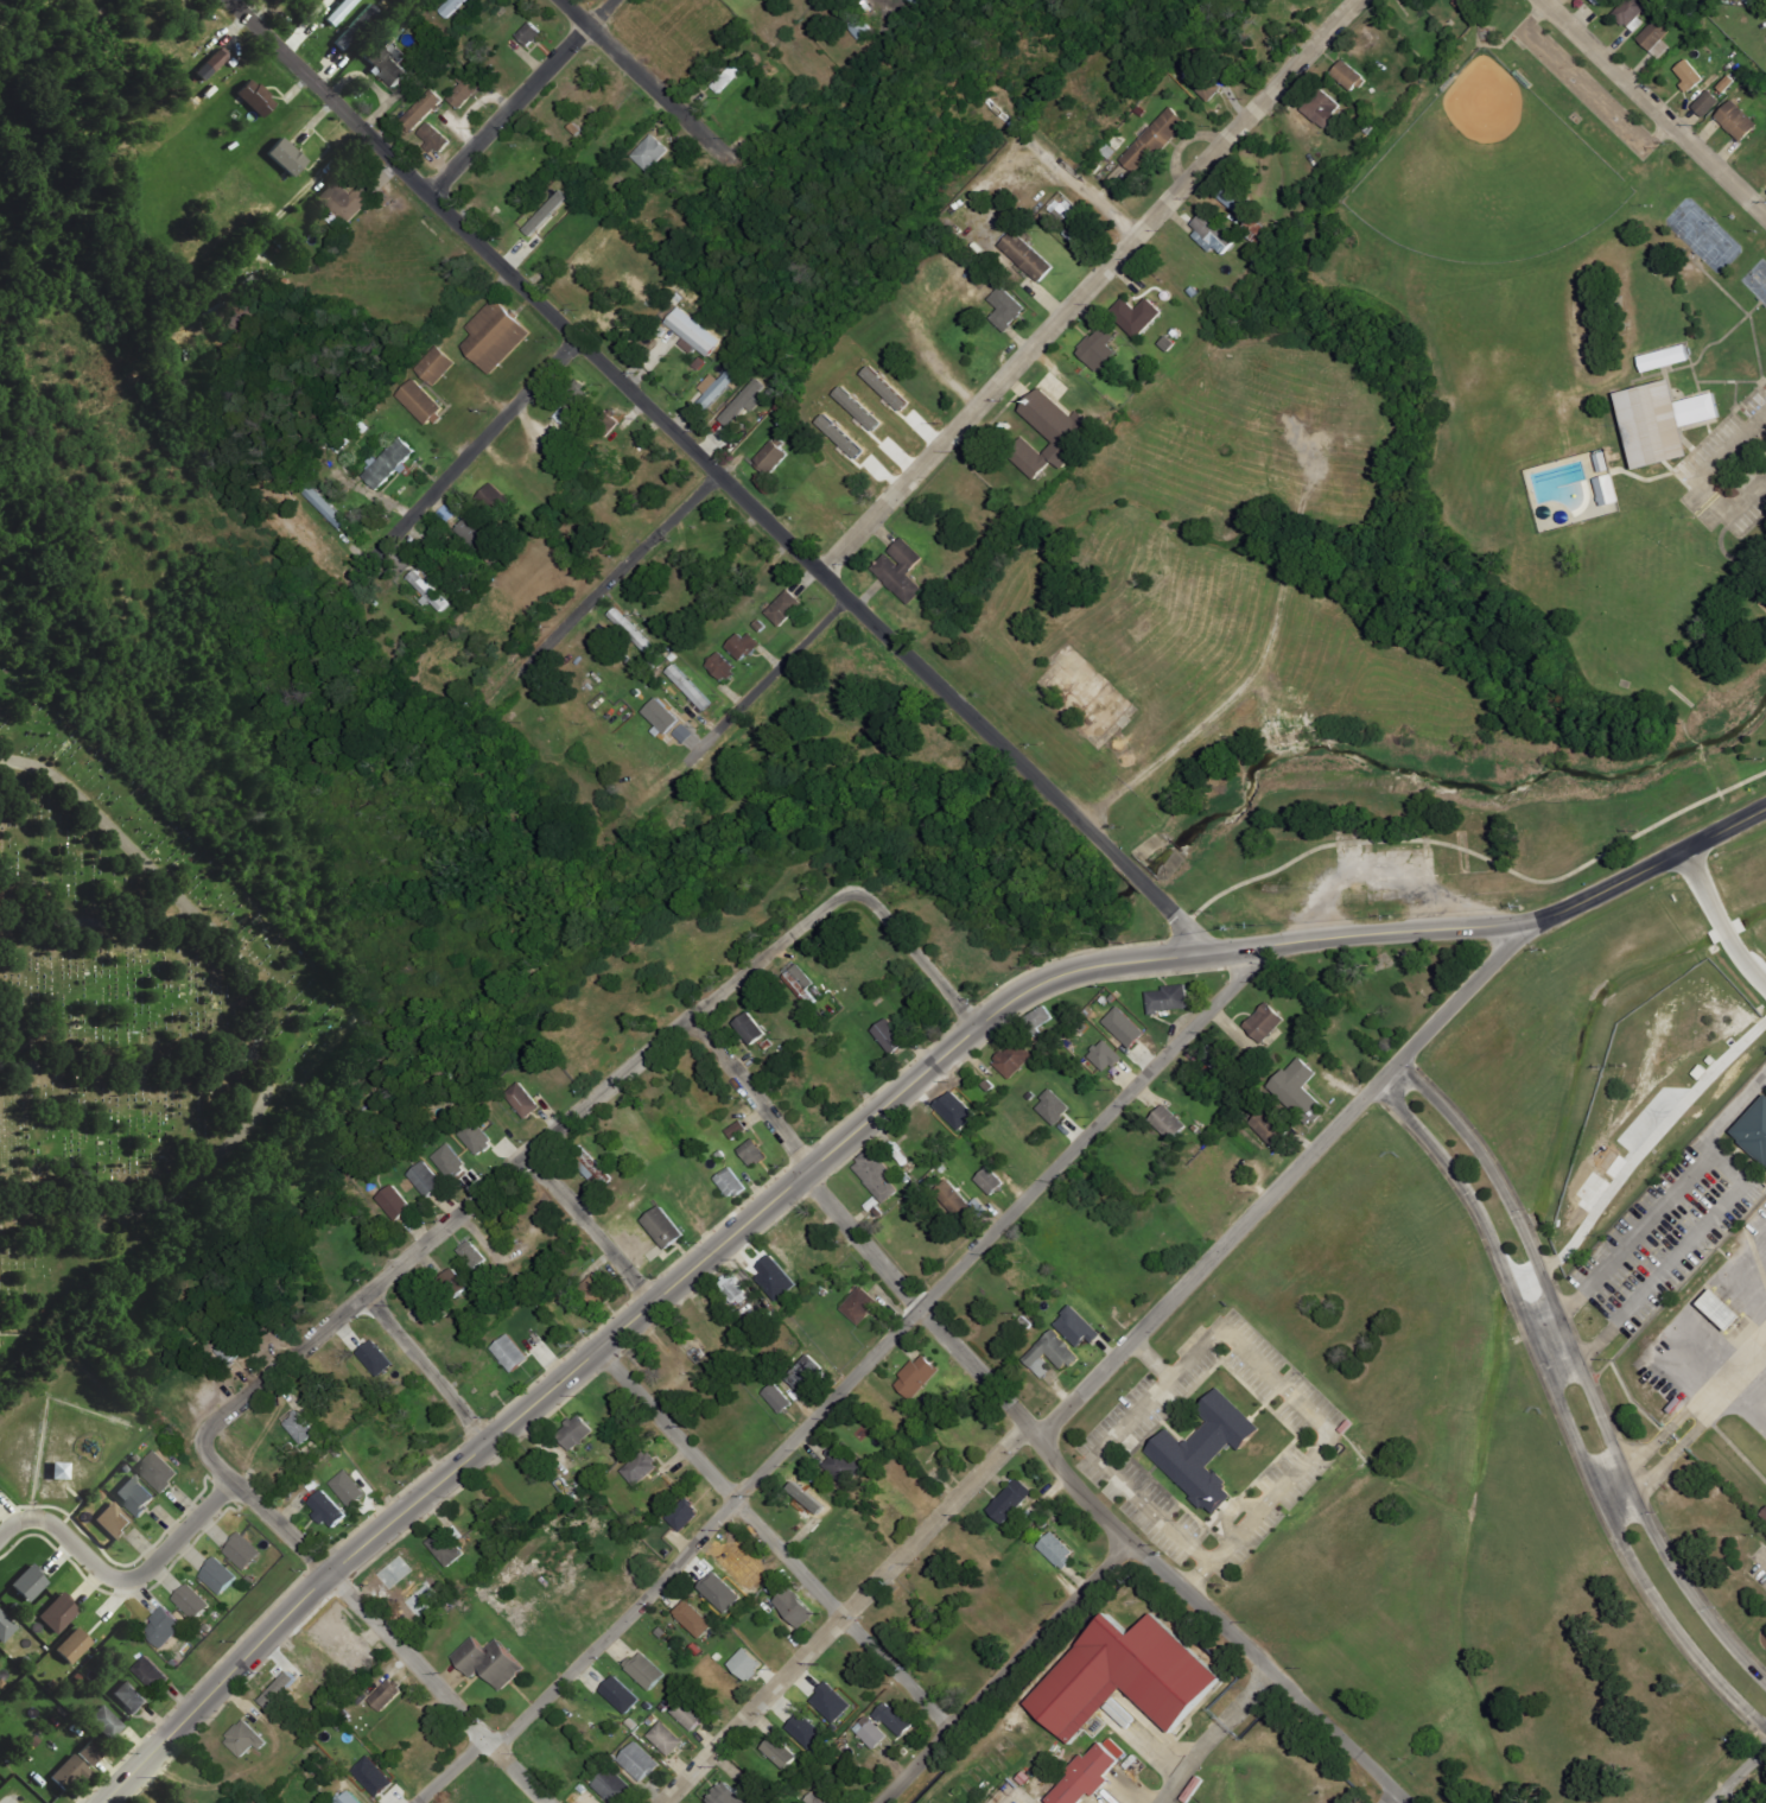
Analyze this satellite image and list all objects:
building: (1600, 1)
building: (1467, 4)
building: (453, 7)
building: (342, 12)
building: (1632, 14)
building: (357, 27)
building: (860, 27)
building: (532, 33)
building: (1657, 38)
building: (386, 64)
building: (212, 65)
building: (730, 75)
building: (1690, 75)
building: (1349, 76)
road: (646, 81)
building: (1206, 83)
building: (1728, 83)
building: (465, 91)
road: (519, 96)
building: (258, 99)
building: (1708, 103)
road: (1654, 106)
building: (1323, 108)
building: (425, 109)
building: (1739, 121)
building: (436, 140)
building: (1156, 140)
building: (652, 153)
building: (288, 158)
building: (347, 202)
building: (1235, 203)
building: (1215, 234)
building: (1080, 236)
building: (1029, 256)
road: (1088, 286)
building: (1006, 307)
building: (1139, 315)
building: (695, 332)
building: (497, 335)
building: (1100, 348)
building: (1667, 358)
building: (437, 366)
building: (718, 387)
building: (888, 388)
park: (1524, 399)
building: (423, 402)
building: (745, 402)
building: (860, 408)
building: (565, 415)
building: (1652, 421)
building: (608, 423)
building: (1054, 434)
building: (843, 436)
building: (774, 456)
road: (463, 458)
building: (1605, 462)
building: (390, 463)
parking lot: (1730, 465)
road: (718, 474)
building: (1611, 490)
building: (326, 507)
park: (1423, 532)
building: (477, 534)
building: (903, 570)
road: (618, 574)
building: (430, 592)
building: (786, 608)
building: (633, 630)
building: (744, 646)
building: (724, 666)
road: (767, 683)
building: (688, 685)
building: (663, 716)
building: (685, 734)
road: (100, 820)
road: (91, 907)
road: (1720, 919)
road: (919, 956)
building: (800, 982)
building: (818, 993)
building: (1168, 996)
road: (1453, 1005)
park: (127, 1014)
building: (1035, 1018)
building: (1263, 1021)
building: (1126, 1028)
building: (748, 1029)
building: (889, 1037)
building: (764, 1043)
building: (1106, 1055)
building: (1211, 1056)
road: (134, 1059)
building: (1010, 1059)
building: (1698, 1071)
building: (989, 1087)
building: (1297, 1092)
building: (521, 1098)
building: (1055, 1107)
building: (958, 1111)
building: (1168, 1122)
building: (1268, 1124)
building: (737, 1126)
building: (1754, 1128)
road: (849, 1134)
building: (477, 1137)
road: (1650, 1144)
building: (1260, 1147)
building: (752, 1149)
building: (914, 1150)
building: (720, 1153)
road: (522, 1157)
building: (450, 1162)
building: (590, 1164)
building: (876, 1174)
building: (424, 1176)
building: (731, 1179)
building: (989, 1180)
road: (171, 1194)
building: (393, 1200)
building: (633, 1201)
building: (953, 1201)
building: (663, 1223)
road: (591, 1227)
building: (471, 1252)
building: (777, 1280)
building: (456, 1283)
building: (731, 1284)
building: (599, 1288)
building: (858, 1302)
building: (1722, 1309)
building: (1076, 1325)
road: (1554, 1344)
building: (228, 1348)
building: (508, 1351)
building: (1049, 1353)
building: (376, 1358)
road: (427, 1367)
building: (802, 1370)
road: (1581, 1372)
building: (915, 1373)
road: (845, 1385)
building: (776, 1395)
road: (1564, 1410)
road: (1314, 1415)
building: (298, 1423)
building: (970, 1427)
building: (941, 1428)
road: (1029, 1428)
building: (573, 1429)
road: (1018, 1437)
building: (1205, 1448)
road: (1103, 1461)
building: (841, 1464)
building: (639, 1465)
building: (277, 1468)
building: (62, 1471)
building: (160, 1471)
building: (310, 1483)
road: (1614, 1486)
building: (350, 1488)
building: (138, 1496)
building: (1010, 1497)
building: (808, 1498)
building: (325, 1505)
building: (682, 1511)
building: (894, 1512)
building: (1765, 1512)
building: (115, 1522)
road: (770, 1541)
building: (444, 1544)
building: (1055, 1549)
road: (1764, 1550)
building: (246, 1551)
building: (221, 1576)
road: (121, 1579)
building: (31, 1583)
building: (722, 1592)
building: (193, 1601)
building: (794, 1604)
building: (59, 1613)
building: (692, 1615)
road: (375, 1619)
building: (325, 1621)
building: (166, 1626)
building: (6, 1627)
building: (75, 1646)
building: (695, 1646)
building: (488, 1658)
building: (745, 1661)
building: (643, 1668)
road: (1004, 1671)
building: (153, 1674)
building: (1126, 1677)
building: (728, 1687)
building: (282, 1689)
building: (387, 1695)
building: (622, 1695)
building: (132, 1697)
road: (1249, 1697)
building: (832, 1703)
building: (662, 1706)
building: (686, 1712)
building: (894, 1715)
building: (650, 1718)
building: (106, 1722)
building: (806, 1731)
building: (663, 1735)
building: (875, 1735)
building: (246, 1740)
building: (777, 1750)
building: (91, 1754)
building: (636, 1758)
road: (1189, 1760)
building: (71, 1773)
building: (1082, 1775)
road: (1738, 1775)
building: (590, 1776)
building: (375, 1777)
building: (611, 1784)
building: (725, 1794)
building: (821, 1796)
road: (1390, 1796)
building: (349, 1798)
building: (1761, 1799)

